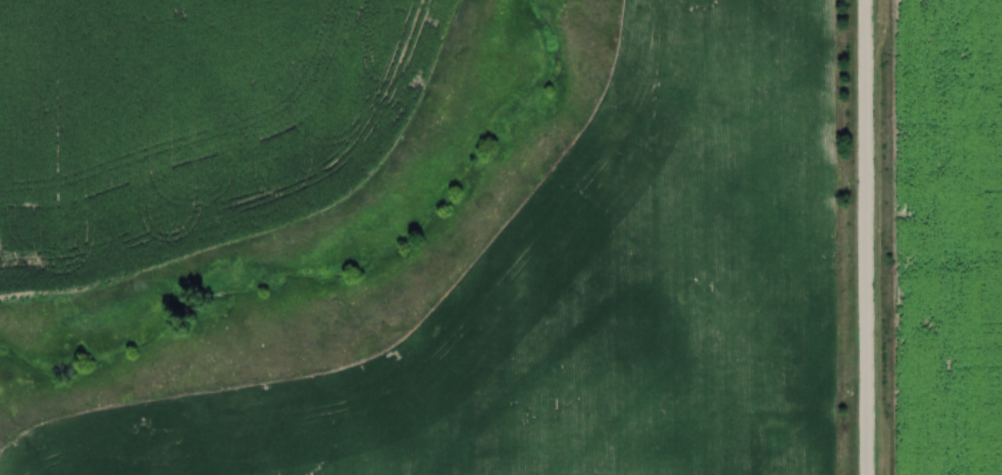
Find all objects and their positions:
road: (872, 237)

